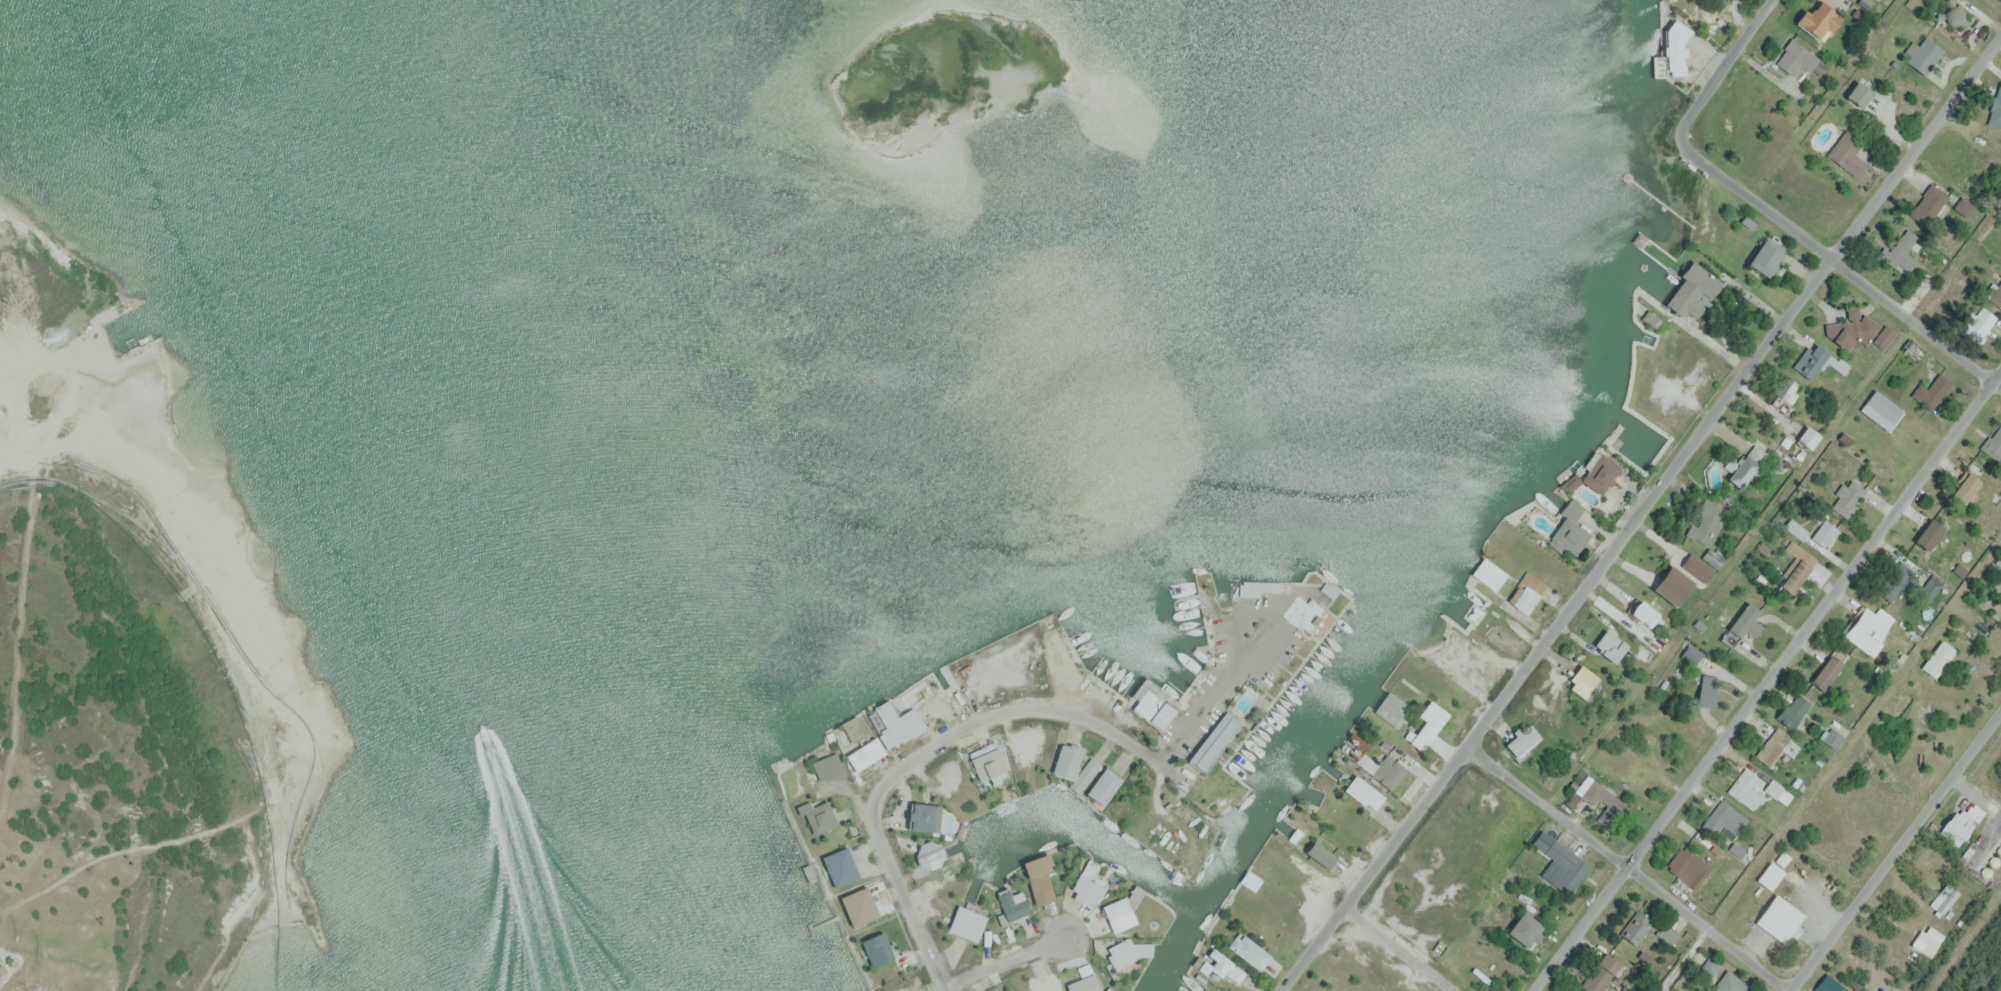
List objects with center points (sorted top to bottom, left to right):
building: (1951, 13)
building: (1816, 18)
building: (1674, 50)
building: (1923, 55)
building: (1796, 58)
road: (1726, 66)
building: (1857, 94)
building: (1995, 111)
building: (1846, 154)
building: (1931, 206)
building: (1963, 206)
building: (1900, 252)
building: (1765, 257)
road: (1839, 262)
building: (1691, 290)
building: (1996, 297)
building: (1980, 325)
building: (1854, 327)
building: (1883, 337)
building: (1672, 343)
building: (1912, 349)
building: (1816, 361)
building: (1931, 391)
building: (1784, 392)
building: (1807, 438)
building: (1993, 444)
building: (1745, 465)
building: (1600, 474)
building: (1963, 486)
building: (1847, 497)
road: (1641, 513)
building: (1707, 523)
building: (1796, 529)
building: (1824, 534)
building: (1928, 535)
building: (1569, 536)
building: (1697, 568)
building: (1795, 568)
building: (1488, 574)
building: (1898, 584)
building: (1671, 586)
building: (1248, 588)
building: (1526, 592)
building: (1643, 612)
building: (1739, 625)
building: (1867, 627)
building: (1610, 645)
building: (1692, 654)
building: (1937, 659)
building: (1825, 672)
building: (945, 679)
building: (1582, 681)
road: (1767, 681)
building: (1706, 691)
road: (1032, 709)
building: (1150, 710)
building: (1793, 710)
building: (1427, 725)
road: (1855, 735)
building: (888, 737)
building: (1833, 739)
building: (1522, 741)
building: (1212, 742)
building: (1775, 747)
building: (1066, 761)
building: (987, 764)
building: (827, 768)
building: (1387, 772)
building: (1640, 777)
building: (1742, 782)
building: (1103, 787)
building: (1362, 793)
building: (1600, 796)
building: (818, 816)
building: (920, 817)
building: (1723, 820)
building: (1960, 821)
road: (1895, 851)
building: (928, 854)
building: (1320, 855)
building: (1560, 864)
road: (1632, 865)
building: (838, 867)
building: (1688, 867)
building: (1038, 880)
building: (1086, 890)
road: (902, 892)
building: (1944, 899)
building: (1012, 905)
building: (1117, 915)
building: (1778, 918)
building: (966, 920)
building: (1636, 927)
building: (1667, 933)
building: (1927, 940)
building: (875, 948)
road: (1401, 949)
building: (1248, 951)
building: (1121, 955)
road: (1686, 959)
road: (1005, 960)
building: (1710, 966)
building: (1224, 967)
building: (1043, 982)
building: (1083, 983)
building: (1730, 983)
building: (897, 988)

